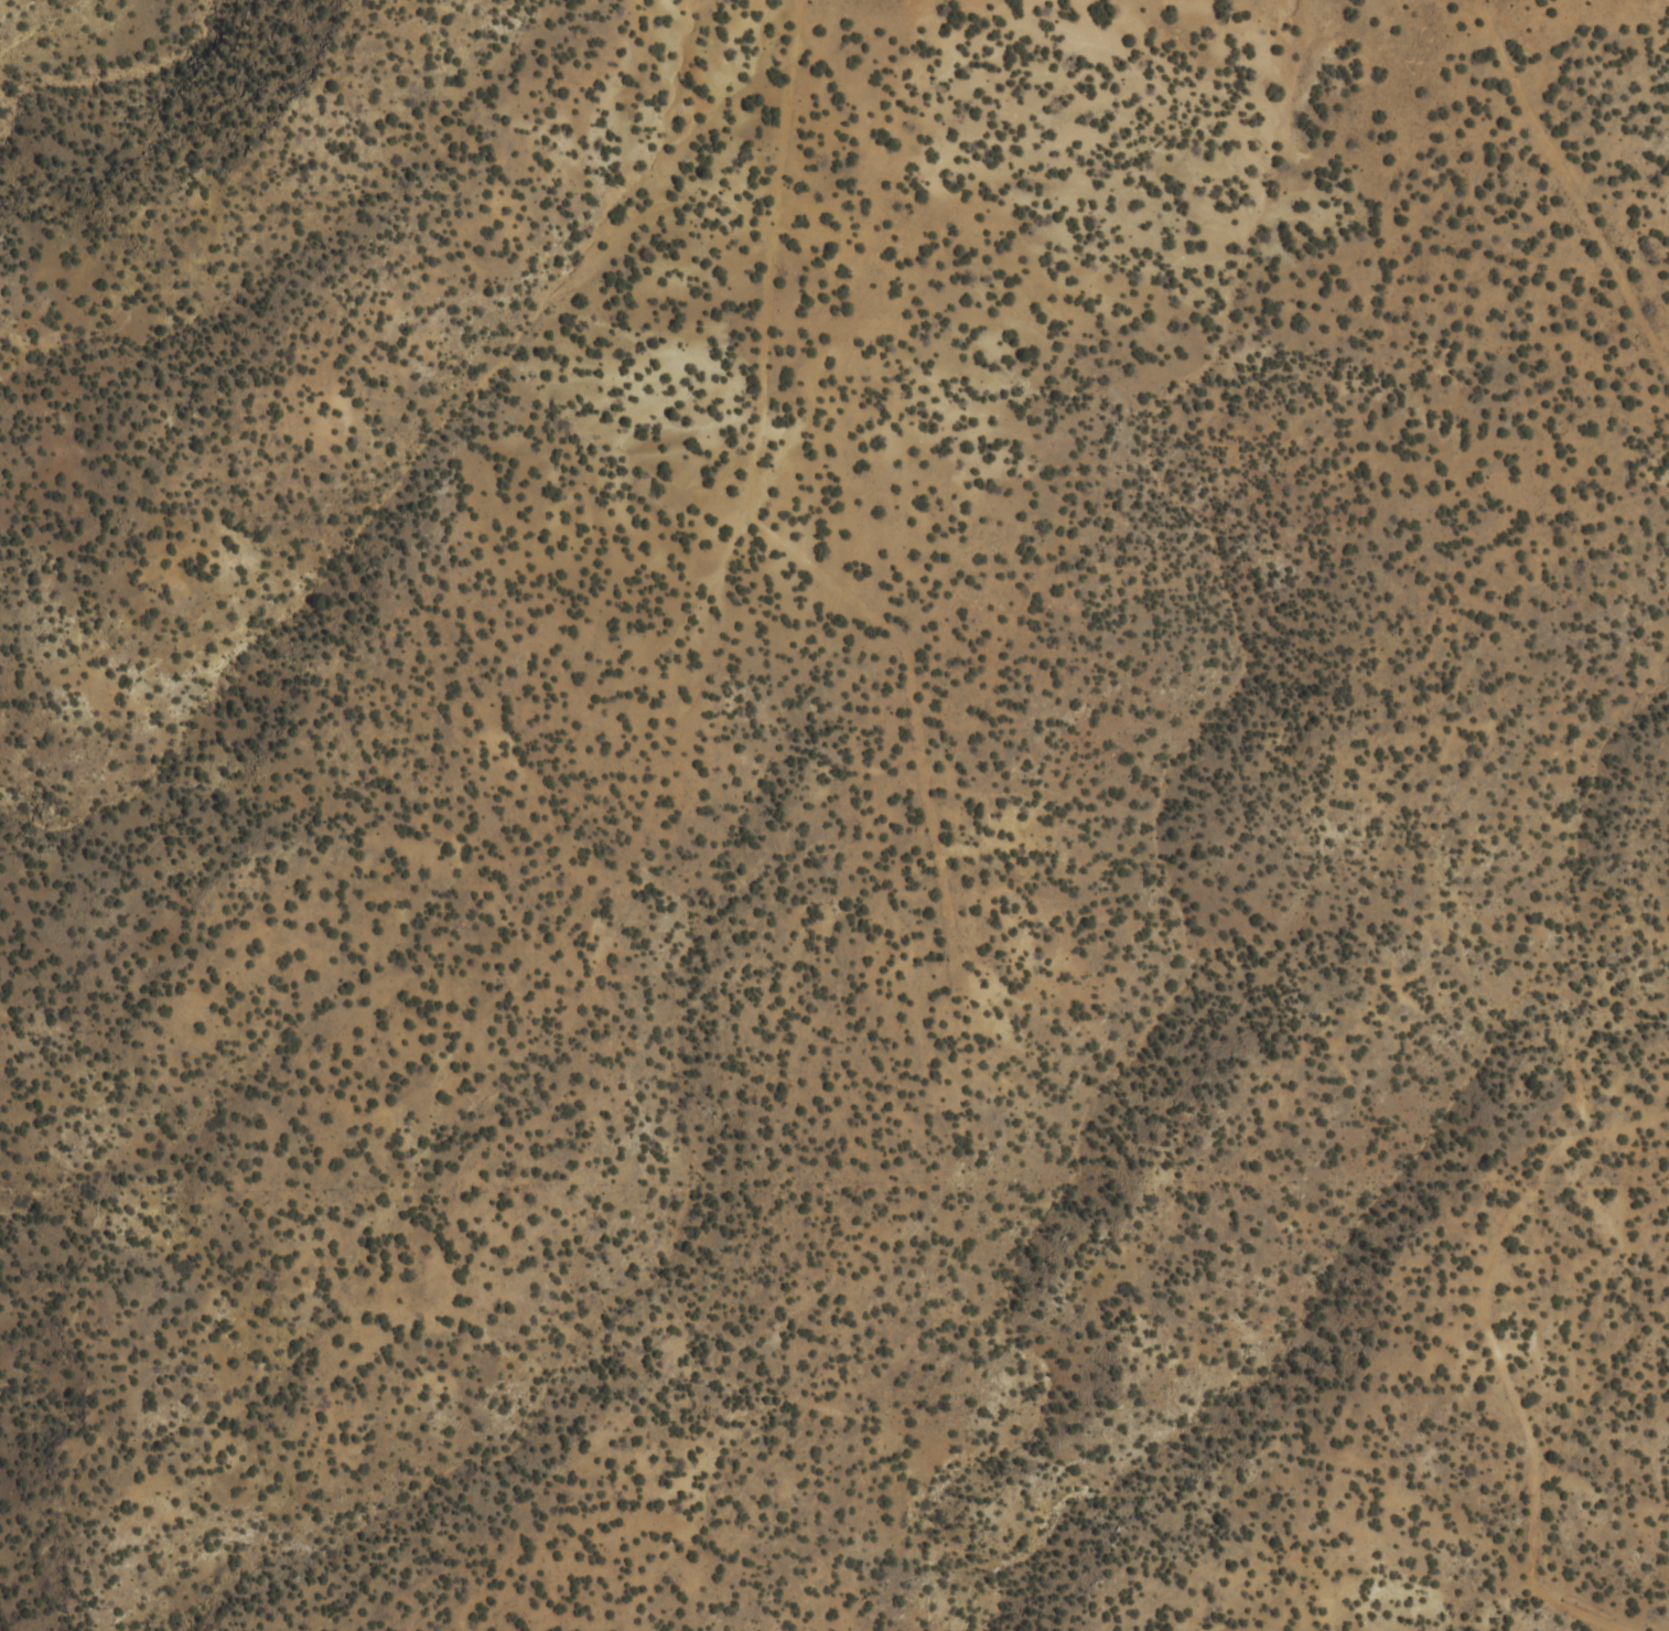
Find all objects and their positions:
road: (1553, 198)

